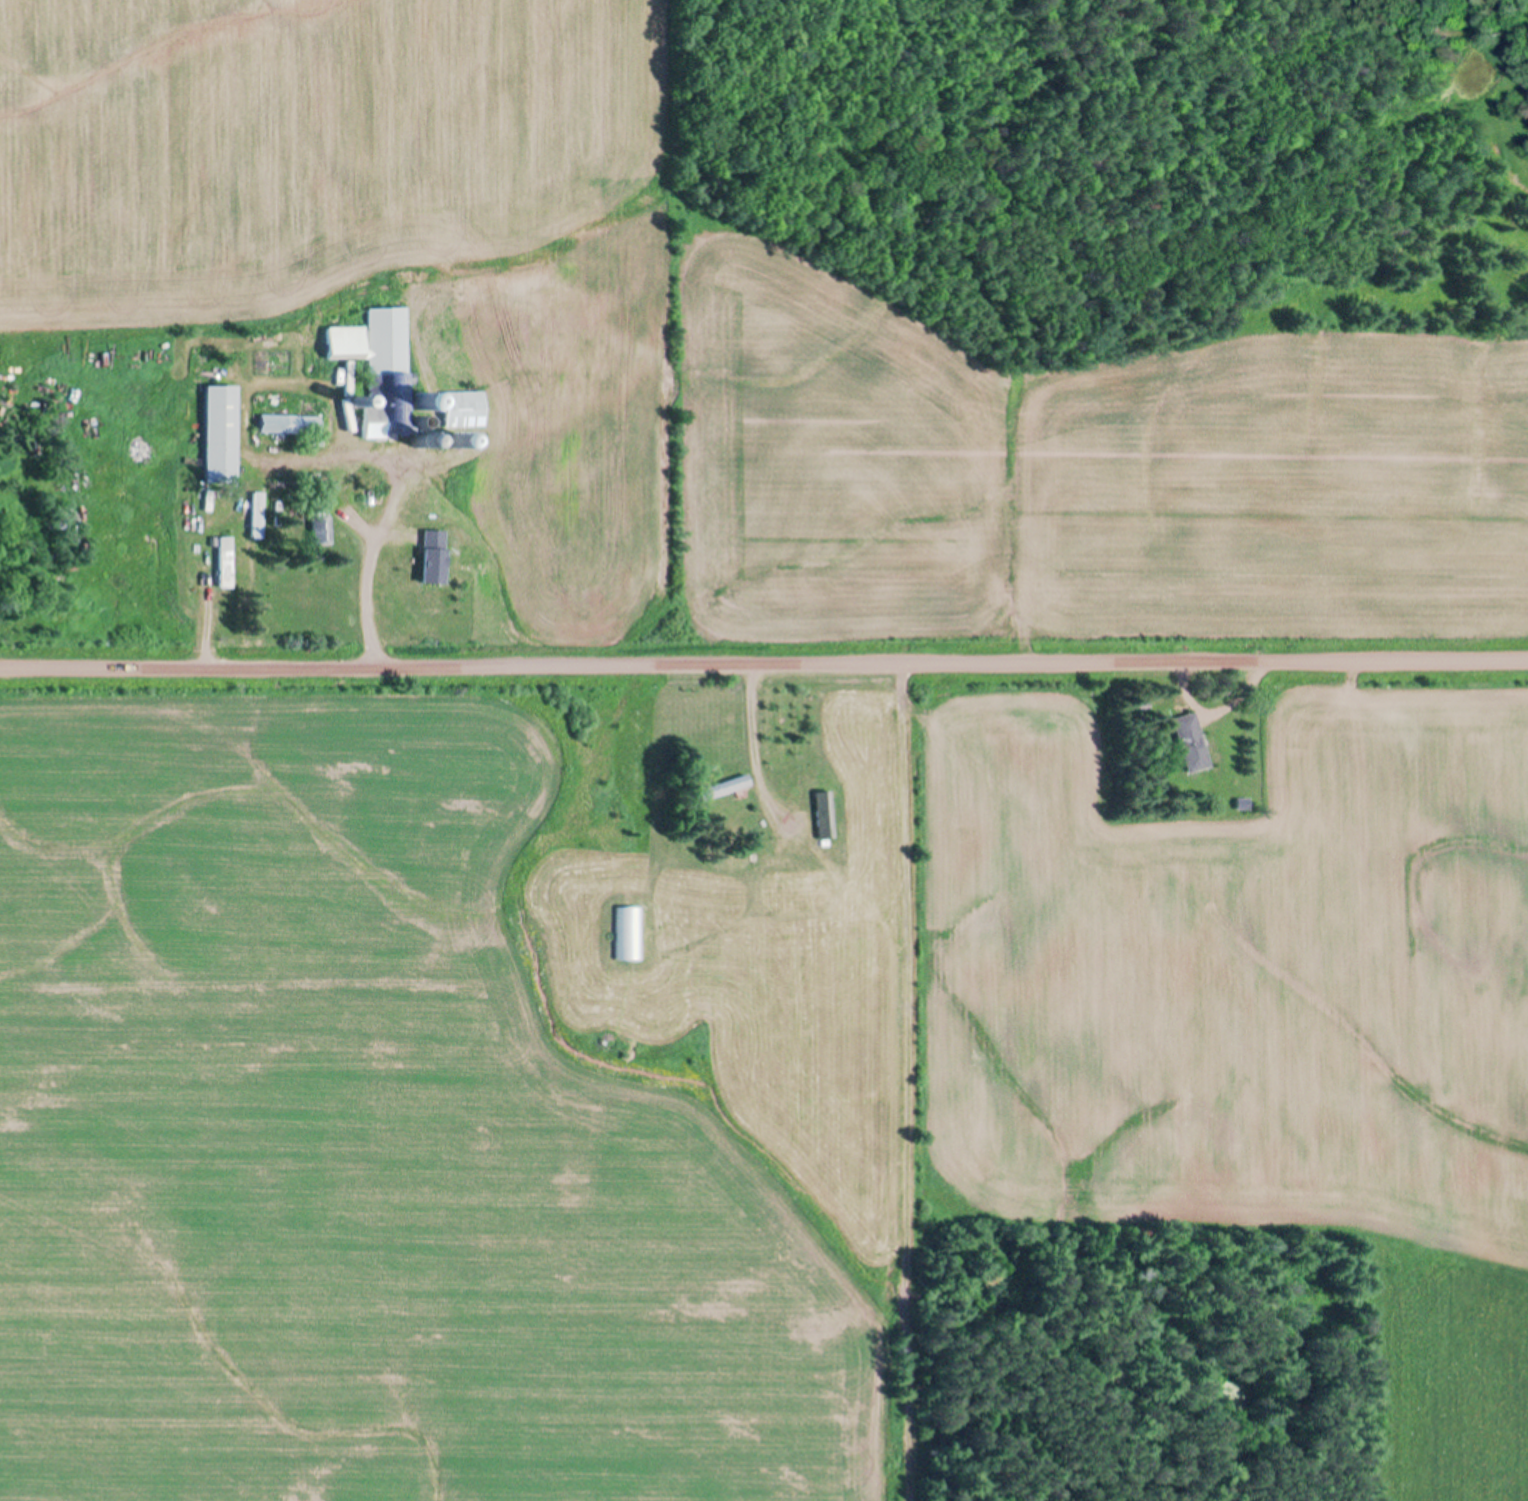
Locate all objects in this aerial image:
building: (380, 367)
building: (511, 401)
building: (463, 408)
building: (290, 422)
building: (221, 434)
building: (258, 515)
building: (321, 529)
building: (432, 555)
building: (227, 560)
road: (764, 649)
building: (1190, 740)
building: (720, 788)
building: (821, 814)
building: (789, 885)
building: (628, 932)

